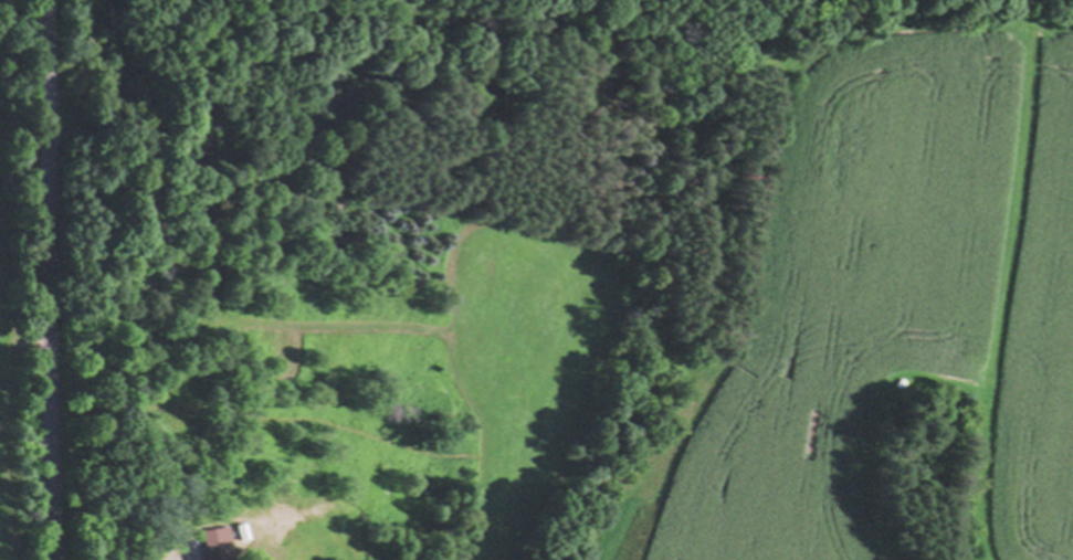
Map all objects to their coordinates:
road: (43, 279)
building: (217, 552)

